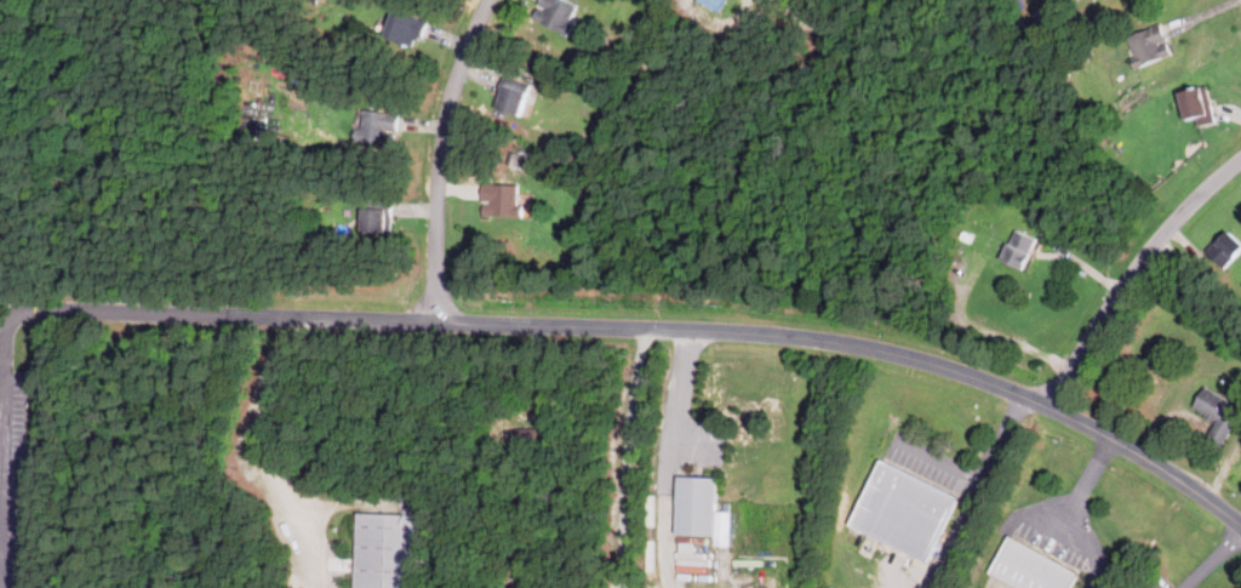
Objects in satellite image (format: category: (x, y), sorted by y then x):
building: (719, 4)
building: (556, 13)
building: (407, 29)
building: (1150, 45)
building: (514, 99)
building: (1200, 105)
building: (379, 127)
road: (441, 154)
building: (502, 200)
building: (378, 217)
building: (1228, 246)
building: (1020, 249)
road: (1136, 273)
road: (18, 312)
road: (662, 331)
road: (1, 367)
road: (1, 392)
road: (679, 410)
building: (1219, 413)
road: (258, 440)
road: (627, 458)
road: (983, 473)
building: (703, 509)
building: (905, 509)
road: (664, 538)
building: (388, 550)
road: (1214, 558)
building: (1031, 567)

